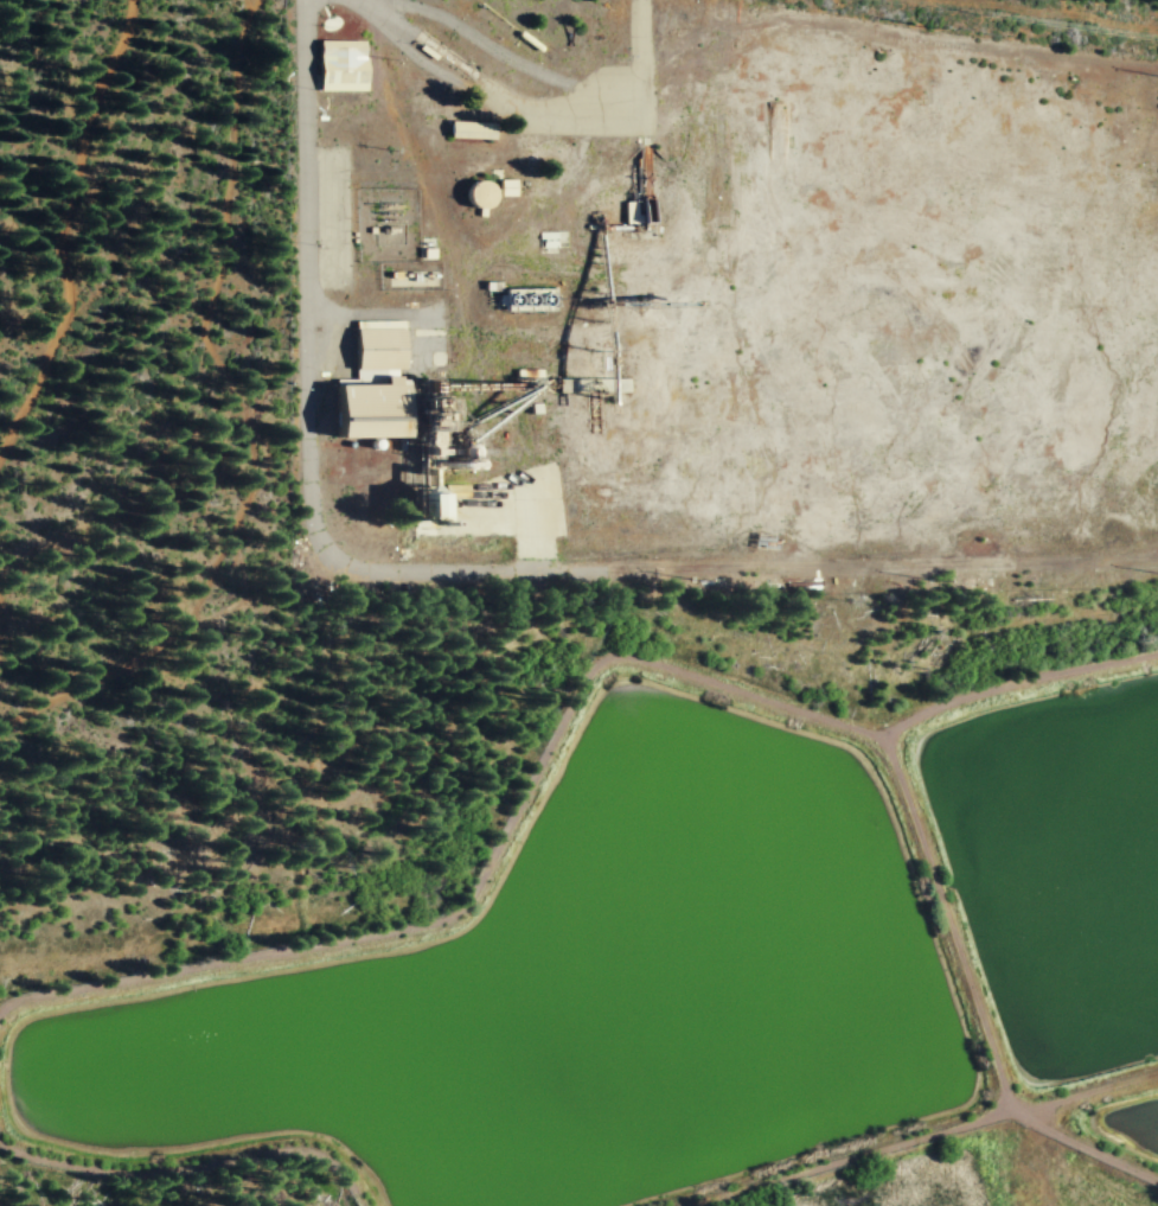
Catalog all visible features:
road: (308, 306)
building: (372, 383)
building: (424, 502)
road: (559, 580)
wastewater plant: (1056, 878)
wastewater plant: (556, 1001)
wastewater plant: (1130, 1138)

